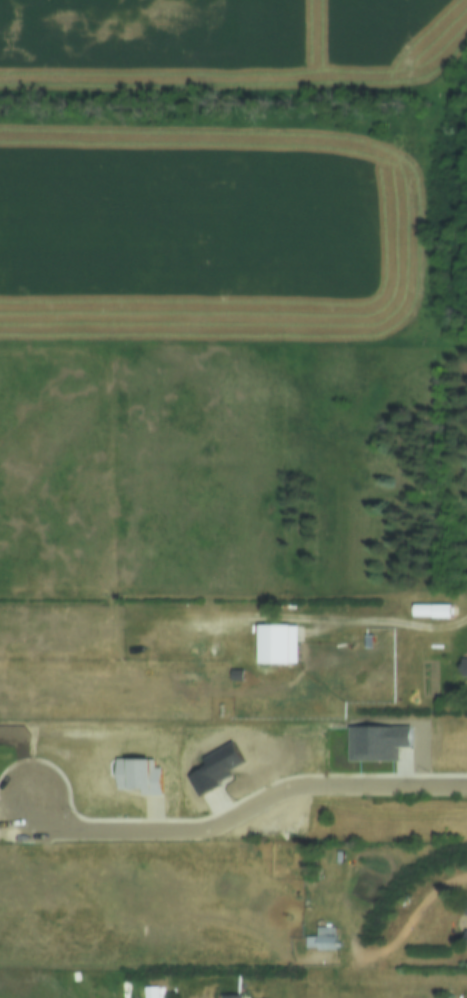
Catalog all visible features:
building: (431, 609)
building: (367, 639)
building: (277, 642)
building: (462, 669)
building: (235, 674)
building: (378, 740)
building: (216, 767)
building: (138, 774)
road: (245, 802)
building: (304, 929)
building: (321, 936)
building: (465, 938)
building: (148, 992)
building: (230, 996)

